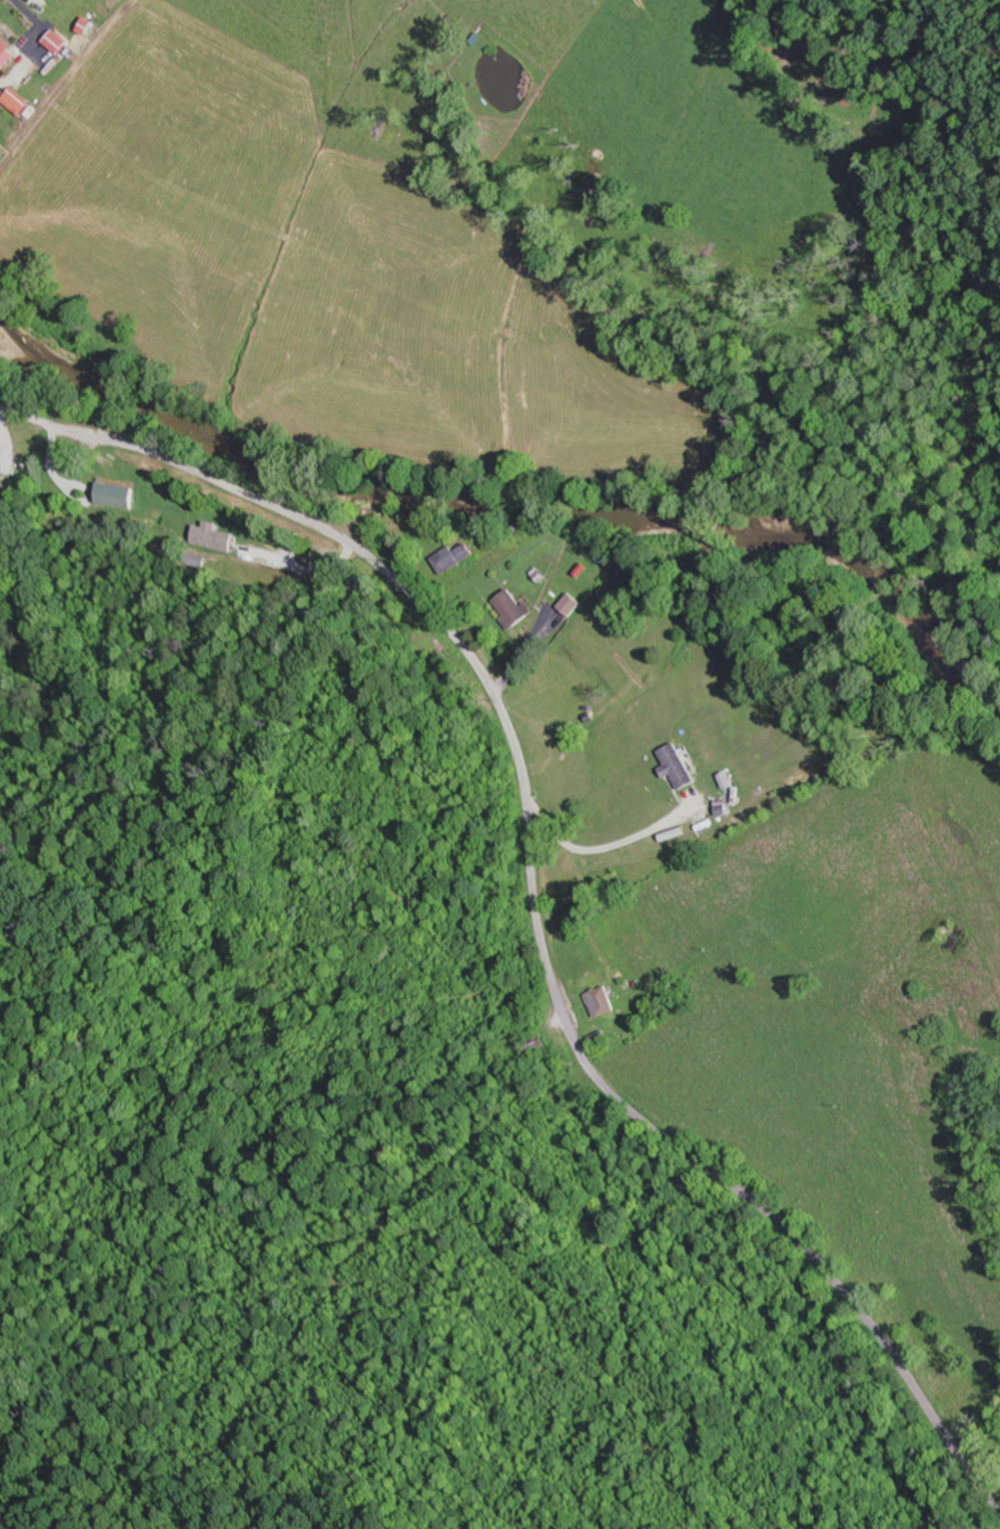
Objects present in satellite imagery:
building: (57, 42)
building: (6, 54)
building: (0, 460)
building: (115, 494)
river: (512, 505)
building: (211, 537)
building: (453, 559)
building: (570, 605)
building: (511, 609)
building: (677, 766)
building: (727, 781)
building: (584, 890)
road: (532, 896)
building: (602, 1002)
building: (599, 1037)
building: (534, 1044)

